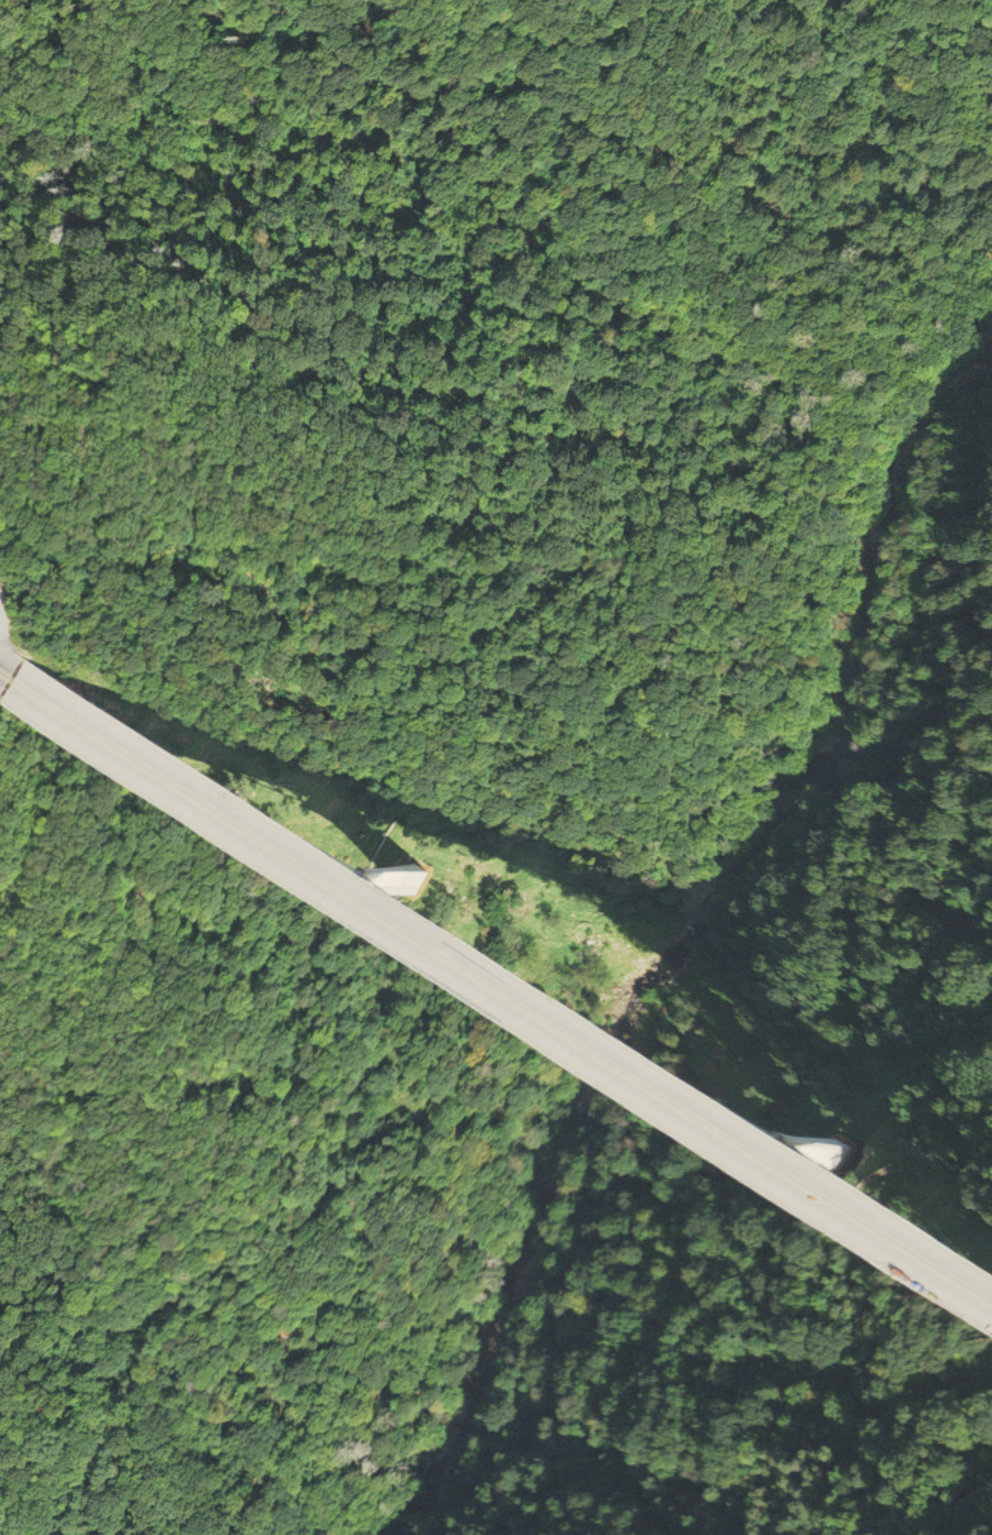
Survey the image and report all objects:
road: (11, 663)
road: (4, 684)
road: (708, 970)
road: (507, 981)
road: (500, 1002)
road: (708, 1186)
building: (749, 1203)

